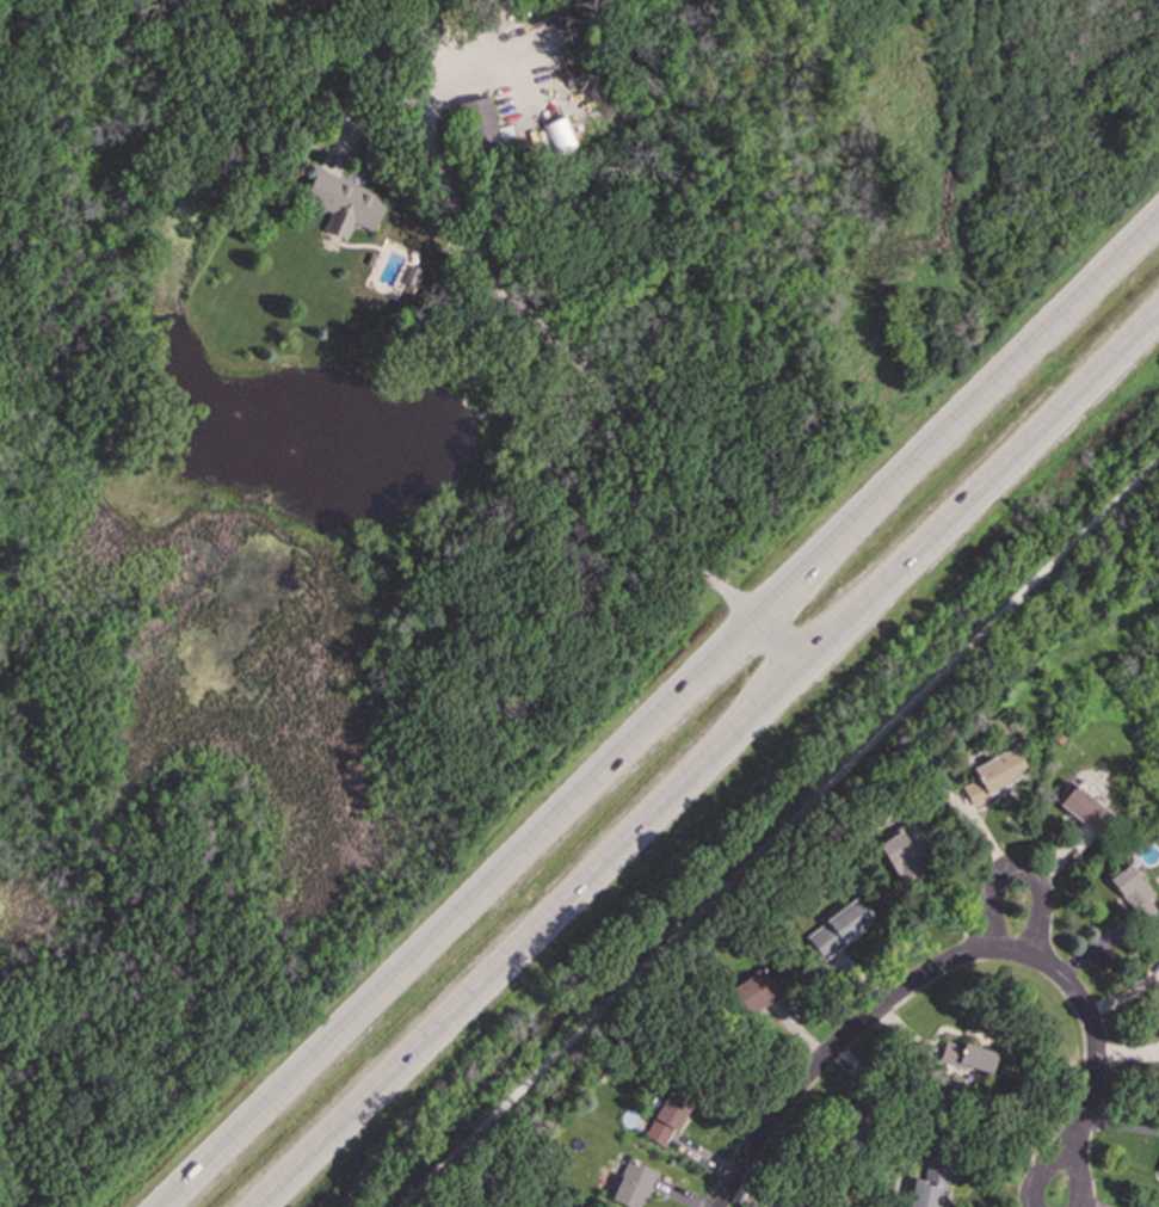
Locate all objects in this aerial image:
building: (482, 129)
building: (345, 208)
road: (789, 647)
road: (668, 721)
road: (709, 769)
building: (997, 778)
building: (1089, 812)
road: (782, 833)
building: (910, 849)
building: (1136, 895)
building: (841, 932)
road: (1019, 936)
building: (751, 999)
road: (836, 1045)
building: (970, 1060)
road: (1084, 1067)
building: (670, 1122)
building: (634, 1187)
building: (930, 1188)

